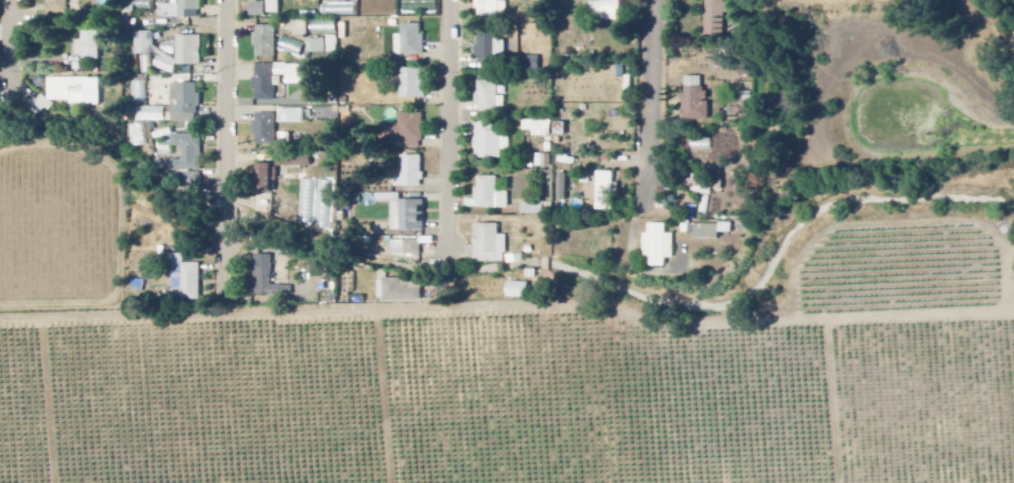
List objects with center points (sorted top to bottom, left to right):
building: (60, 8)
building: (490, 8)
building: (183, 10)
building: (260, 10)
building: (605, 11)
building: (714, 17)
building: (267, 42)
building: (410, 42)
road: (15, 45)
building: (146, 45)
building: (93, 47)
building: (317, 47)
building: (490, 49)
building: (191, 52)
building: (532, 65)
building: (301, 81)
building: (412, 84)
building: (76, 92)
road: (649, 92)
building: (489, 97)
building: (694, 99)
building: (187, 104)
building: (293, 117)
road: (453, 123)
building: (538, 129)
building: (267, 130)
building: (407, 131)
building: (490, 142)
road: (228, 146)
building: (191, 154)
building: (269, 179)
building: (193, 181)
building: (603, 184)
building: (701, 186)
building: (488, 196)
building: (532, 209)
building: (404, 213)
building: (704, 231)
building: (489, 245)
building: (658, 246)
building: (268, 280)
building: (188, 281)
building: (401, 291)
road: (507, 310)

